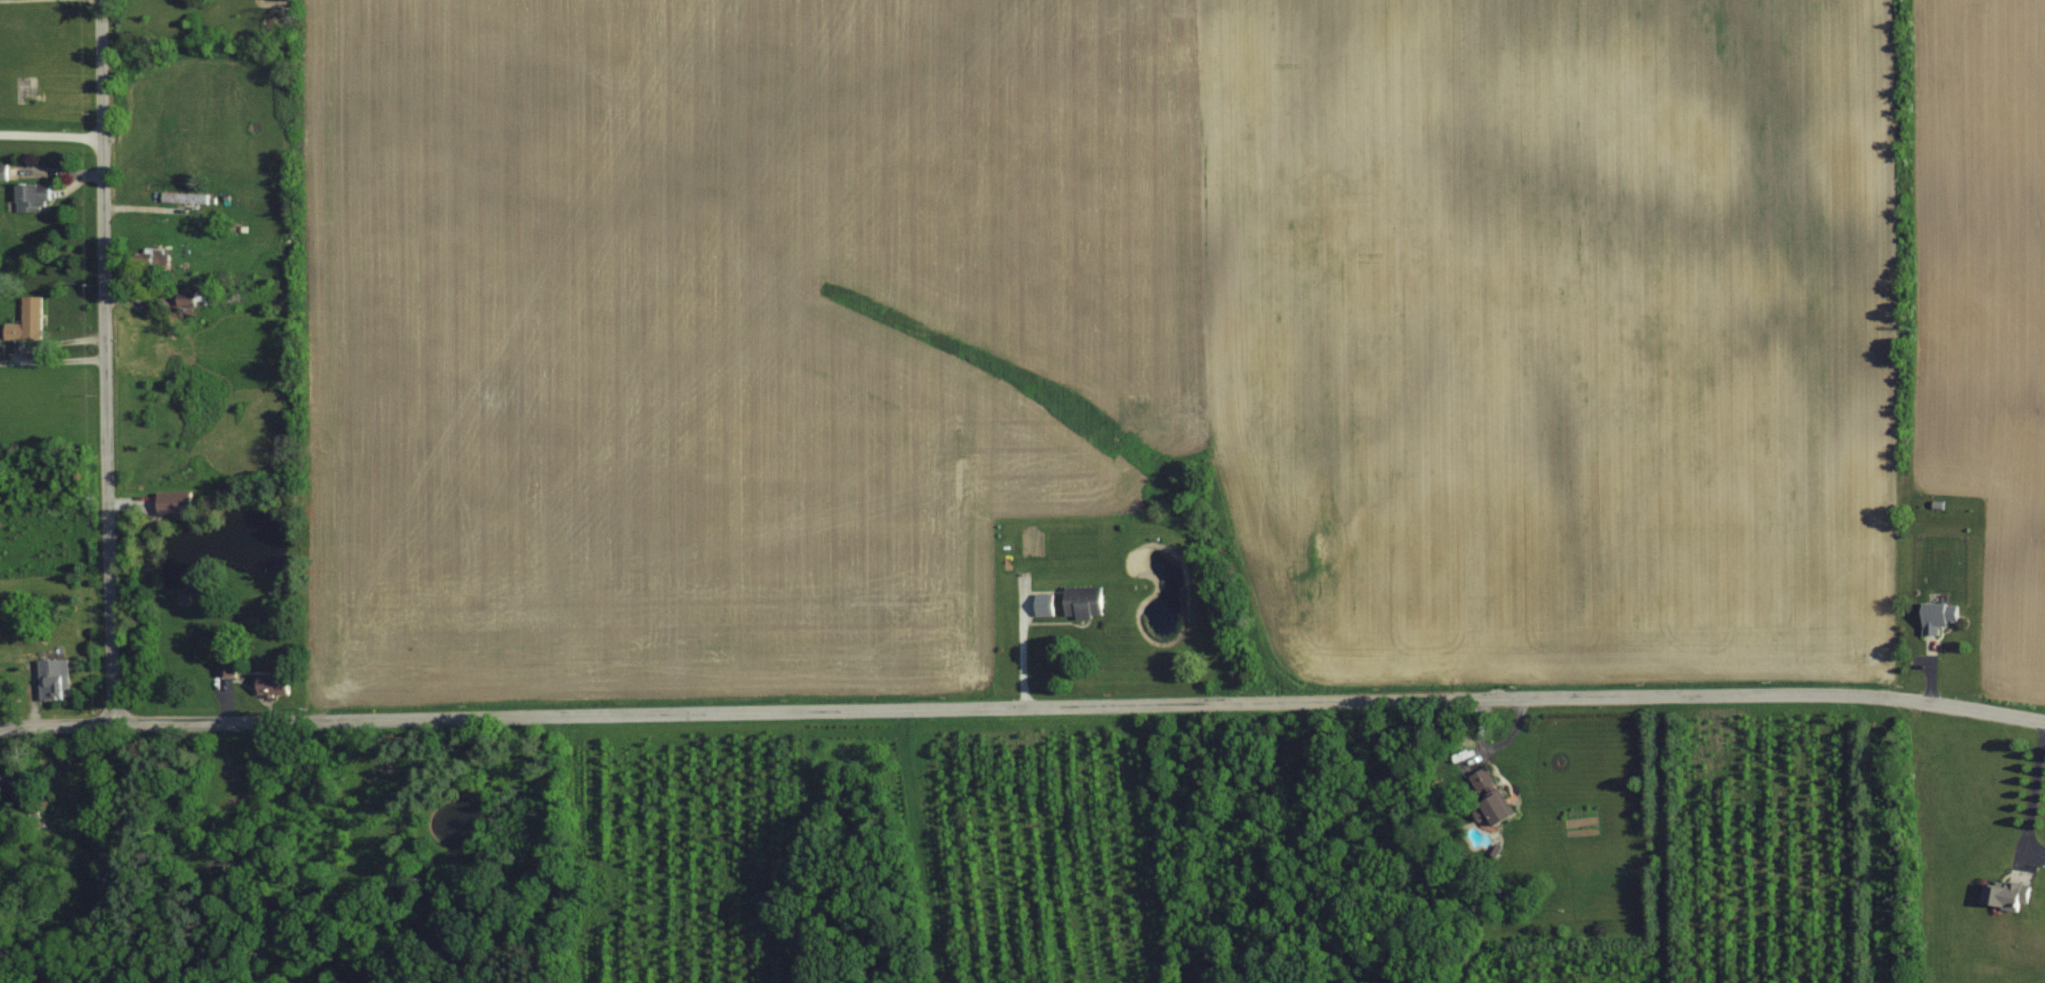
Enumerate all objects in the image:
building: (28, 89)
road: (51, 124)
building: (5, 172)
building: (37, 197)
building: (191, 298)
building: (31, 320)
road: (52, 350)
road: (104, 362)
building: (178, 501)
building: (1091, 600)
building: (1048, 603)
building: (1942, 615)
road: (1022, 649)
building: (56, 677)
building: (278, 683)
road: (1023, 708)
road: (2033, 796)
building: (1506, 810)
building: (2008, 893)

